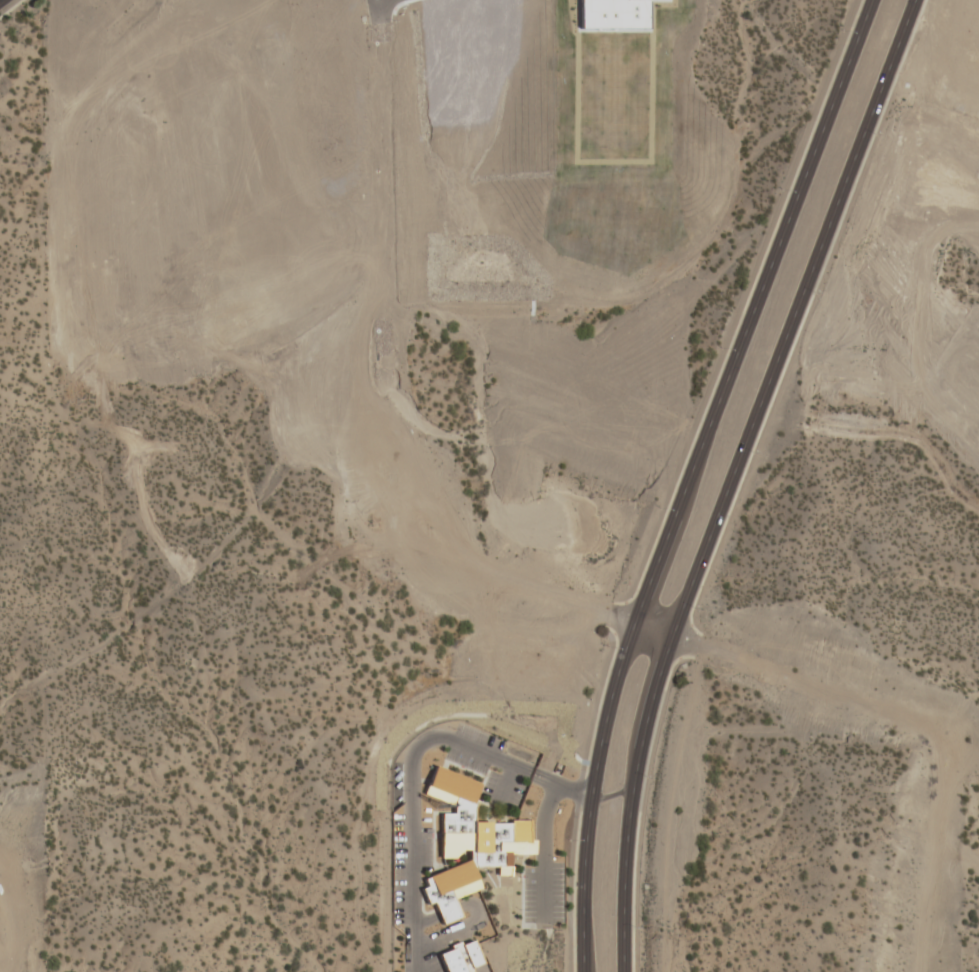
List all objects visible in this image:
road: (399, 6)
road: (10, 8)
building: (608, 15)
road: (382, 402)
road: (693, 477)
road: (736, 478)
road: (541, 828)
building: (468, 843)
building: (460, 958)

